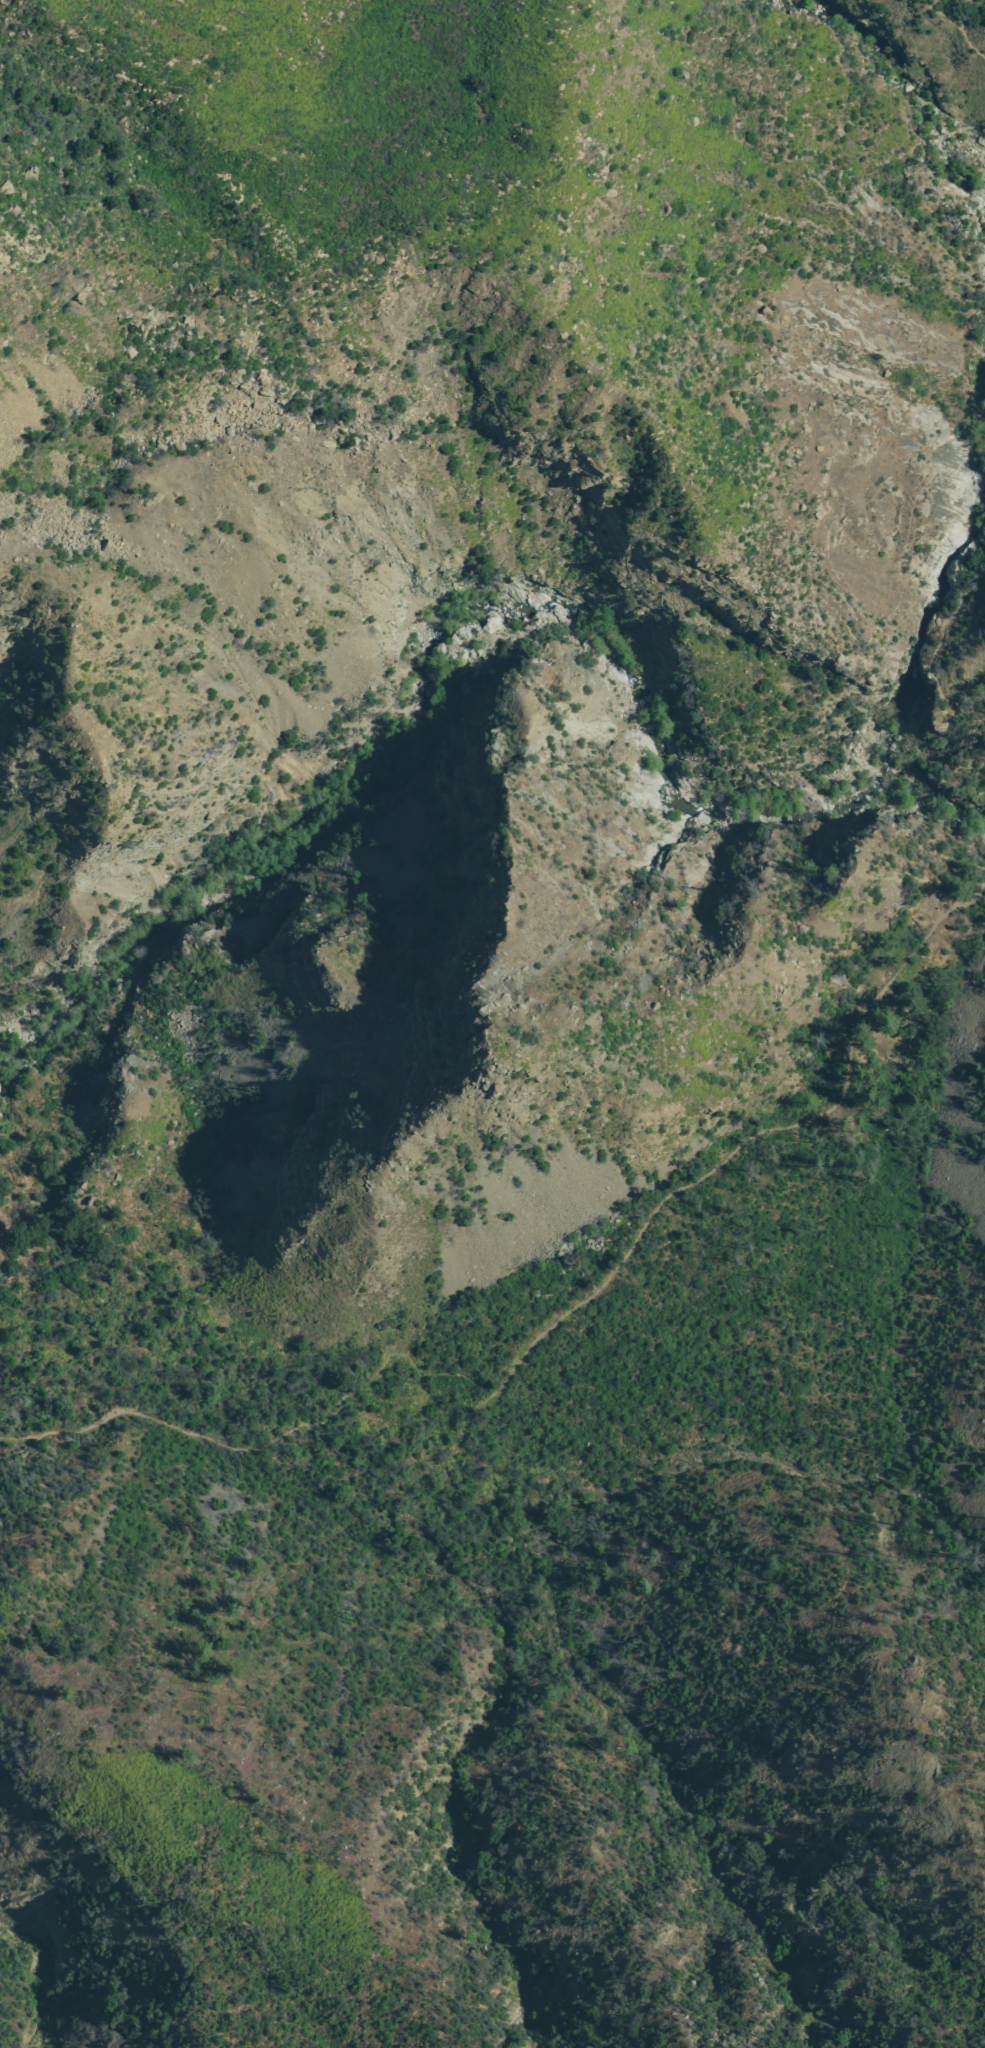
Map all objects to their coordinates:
road: (964, 31)
road: (516, 635)
road: (930, 649)
road: (532, 1339)

